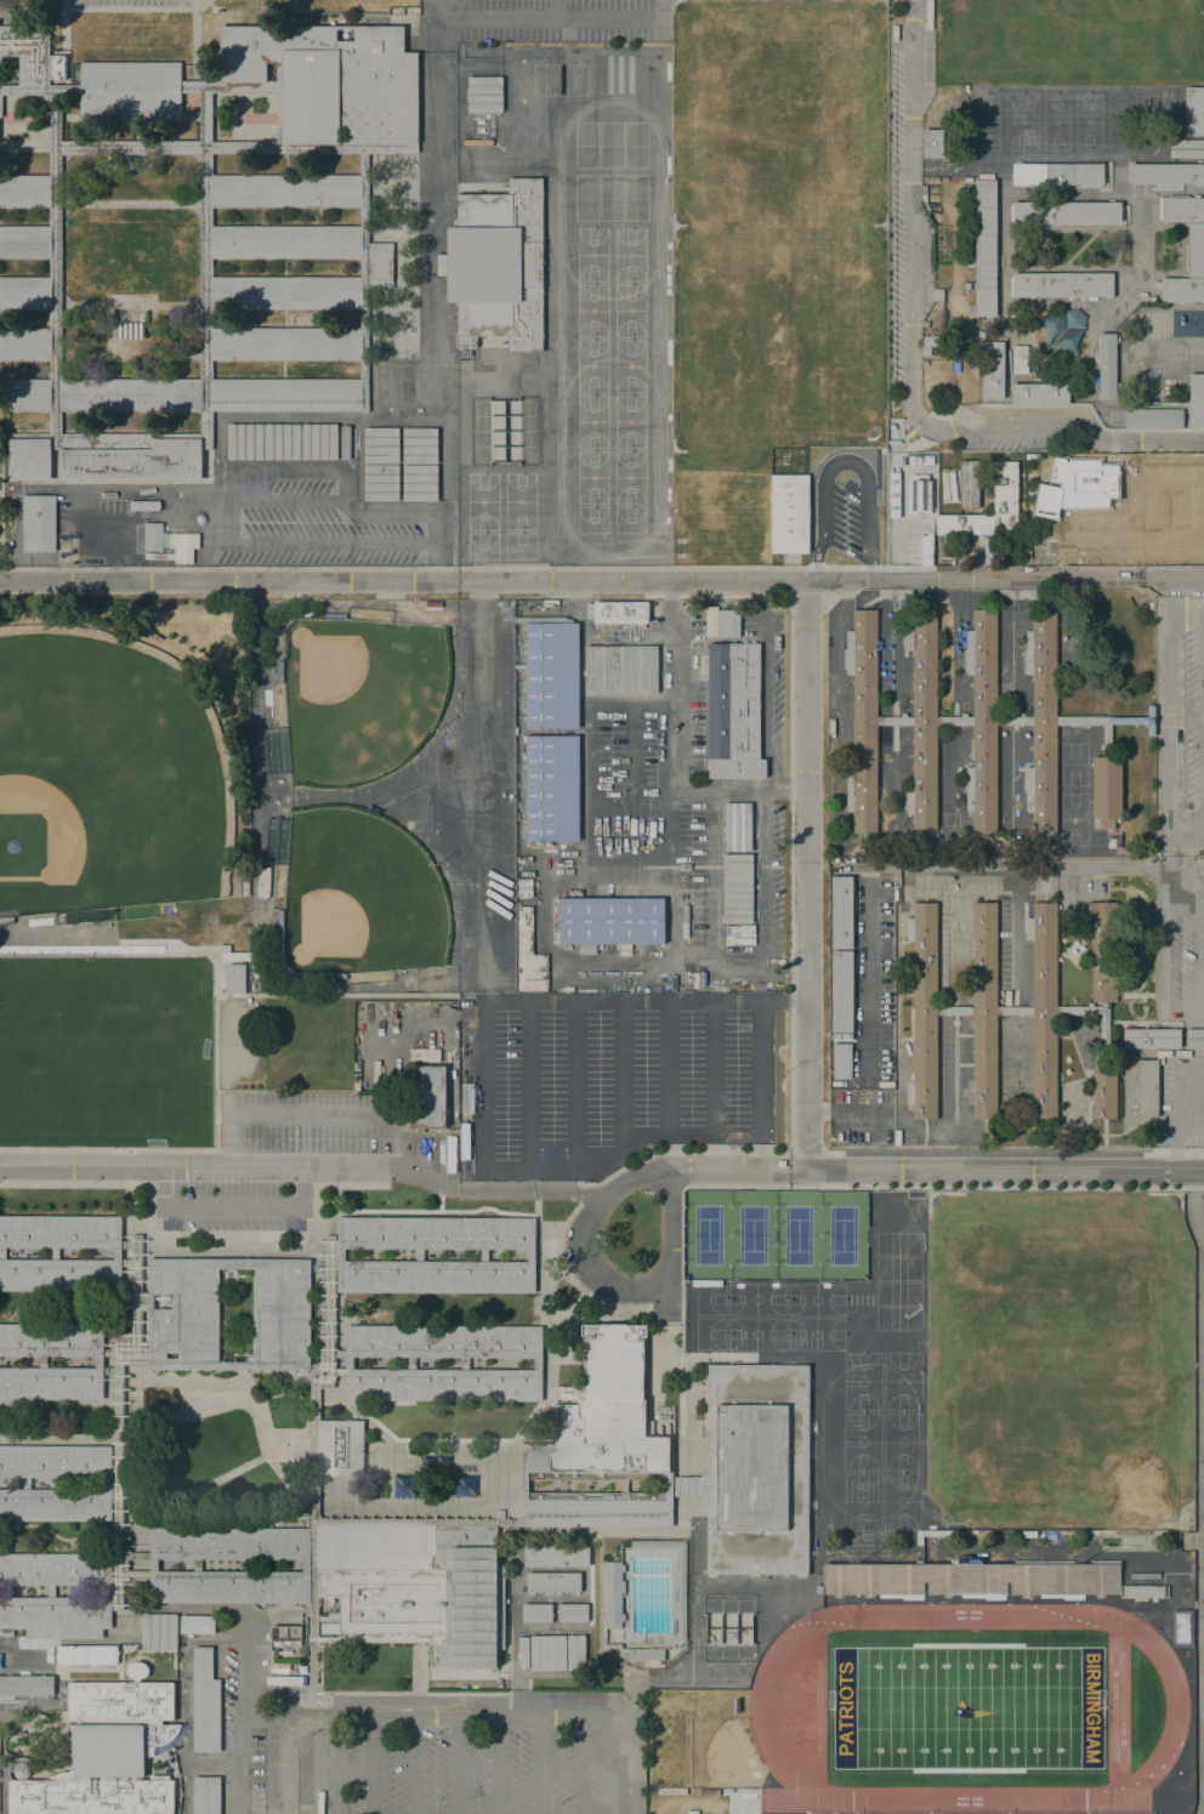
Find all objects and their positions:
road: (129, 7)
road: (557, 8)
road: (536, 18)
road: (427, 21)
parking lot: (551, 21)
park: (1068, 40)
road: (64, 49)
road: (195, 49)
building: (27, 53)
building: (330, 80)
road: (120, 90)
building: (130, 91)
building: (484, 93)
building: (1194, 109)
park: (983, 120)
park: (1086, 120)
park: (1021, 121)
park: (1055, 121)
building: (933, 143)
building: (1186, 147)
road: (167, 149)
road: (1053, 155)
road: (961, 164)
building: (1165, 172)
building: (1057, 174)
building: (25, 191)
building: (285, 191)
road: (1060, 194)
road: (130, 205)
building: (1066, 211)
road: (428, 214)
road: (1072, 228)
building: (25, 240)
building: (285, 241)
road: (1004, 243)
road: (1140, 243)
building: (986, 246)
road: (1078, 248)
road: (1118, 248)
building: (1196, 248)
park: (772, 254)
building: (498, 266)
building: (53, 267)
road: (1072, 268)
building: (377, 277)
building: (966, 285)
building: (1062, 285)
building: (24, 292)
building: (286, 292)
building: (937, 292)
building: (925, 324)
building: (130, 329)
building: (1062, 330)
building: (981, 334)
building: (930, 340)
building: (24, 343)
building: (286, 343)
building: (925, 351)
road: (910, 354)
building: (1020, 359)
building: (1106, 364)
road: (1040, 366)
building: (993, 370)
building: (392, 388)
building: (1039, 391)
building: (27, 394)
building: (130, 394)
building: (285, 394)
road: (1087, 397)
building: (1196, 398)
road: (1092, 411)
building: (1153, 416)
building: (282, 440)
building: (345, 442)
building: (381, 445)
building: (420, 445)
building: (28, 459)
building: (135, 461)
road: (842, 462)
road: (286, 471)
building: (381, 482)
building: (420, 482)
building: (967, 483)
building: (1077, 484)
building: (1006, 488)
road: (1152, 488)
building: (918, 495)
road: (286, 500)
building: (144, 505)
road: (422, 510)
building: (788, 512)
building: (200, 518)
parking lot: (842, 518)
building: (39, 523)
building: (153, 536)
road: (1138, 538)
road: (309, 542)
building: (183, 546)
road: (602, 580)
road: (481, 590)
building: (691, 607)
building: (619, 608)
road: (760, 612)
building: (727, 620)
building: (620, 667)
road: (1081, 671)
building: (551, 672)
parking lot: (772, 682)
road: (765, 692)
road: (256, 693)
park: (357, 694)
building: (733, 710)
road: (1202, 713)
building: (953, 720)
road: (1177, 720)
building: (1108, 723)
road: (1166, 734)
road: (672, 758)
road: (771, 763)
park: (1072, 763)
park: (101, 779)
building: (552, 787)
road: (788, 787)
building: (1104, 789)
road: (487, 790)
road: (447, 795)
road: (351, 797)
parking lot: (478, 797)
parking lot: (670, 801)
park: (1072, 818)
building: (737, 826)
park: (947, 826)
road: (1069, 865)
road: (807, 875)
road: (763, 880)
building: (263, 881)
building: (245, 882)
building: (738, 888)
park: (357, 895)
building: (841, 911)
building: (5, 917)
building: (608, 919)
road: (681, 951)
building: (528, 954)
road: (212, 957)
road: (790, 957)
road: (785, 976)
building: (235, 978)
building: (842, 990)
road: (512, 999)
building: (1010, 1008)
road: (1168, 1008)
building: (842, 1036)
building: (1194, 1036)
building: (1152, 1037)
park: (104, 1050)
building: (842, 1060)
road: (666, 1065)
road: (714, 1065)
road: (621, 1071)
road: (761, 1071)
parking lot: (612, 1076)
road: (528, 1084)
road: (575, 1084)
building: (1145, 1087)
building: (430, 1096)
building: (466, 1097)
road: (314, 1115)
parking lot: (861, 1115)
road: (1182, 1120)
parking lot: (312, 1125)
road: (664, 1132)
building: (464, 1139)
road: (107, 1148)
road: (1172, 1151)
road: (987, 1153)
road: (760, 1156)
road: (199, 1162)
road: (833, 1167)
road: (936, 1170)
road: (74, 1182)
road: (881, 1184)
road: (535, 1189)
parking lot: (232, 1200)
road: (233, 1206)
road: (435, 1210)
building: (59, 1229)
building: (433, 1232)
park: (774, 1234)
building: (2, 1251)
road: (69, 1251)
road: (204, 1251)
building: (55, 1252)
road: (436, 1252)
building: (419, 1253)
building: (483, 1253)
building: (529, 1255)
building: (234, 1261)
building: (59, 1274)
building: (435, 1275)
road: (545, 1285)
road: (642, 1286)
road: (586, 1293)
building: (183, 1308)
building: (280, 1309)
building: (51, 1340)
building: (442, 1340)
park: (1058, 1359)
building: (42, 1361)
road: (61, 1361)
building: (348, 1361)
building: (411, 1361)
road: (436, 1361)
building: (465, 1361)
building: (538, 1361)
road: (170, 1365)
building: (443, 1382)
building: (51, 1383)
road: (328, 1394)
road: (245, 1403)
building: (607, 1414)
building: (126, 1425)
road: (493, 1438)
building: (352, 1449)
park: (221, 1450)
building: (56, 1461)
building: (756, 1468)
road: (121, 1477)
road: (220, 1478)
building: (681, 1480)
road: (61, 1483)
building: (625, 1485)
road: (680, 1502)
building: (55, 1505)
building: (600, 1507)
road: (515, 1520)
building: (228, 1542)
road: (313, 1546)
building: (556, 1554)
building: (197, 1563)
road: (217, 1564)
building: (55, 1568)
building: (971, 1576)
building: (553, 1582)
building: (228, 1585)
building: (418, 1586)
building: (50, 1590)
road: (61, 1591)
road: (693, 1592)
building: (1143, 1592)
building: (612, 1593)
building: (681, 1597)
building: (536, 1613)
building: (573, 1613)
building: (56, 1614)
building: (197, 1622)
building: (1182, 1627)
building: (158, 1630)
building: (284, 1636)
building: (613, 1647)
building: (547, 1651)
building: (575, 1651)
building: (86, 1653)
building: (644, 1654)
road: (418, 1666)
building: (25, 1684)
building: (204, 1701)
park: (966, 1706)
track: (967, 1706)
road: (311, 1715)
road: (407, 1717)
road: (280, 1723)
parking lot: (242, 1736)
road: (239, 1739)
building: (108, 1751)
road: (181, 1752)
road: (322, 1757)
road: (184, 1762)
parking lot: (483, 1762)
road: (373, 1765)
road: (413, 1765)
road: (456, 1765)
road: (498, 1765)
road: (538, 1765)
road: (581, 1765)
road: (623, 1765)
building: (21, 1767)
road: (311, 1773)
building: (206, 1795)
building: (982, 1813)

